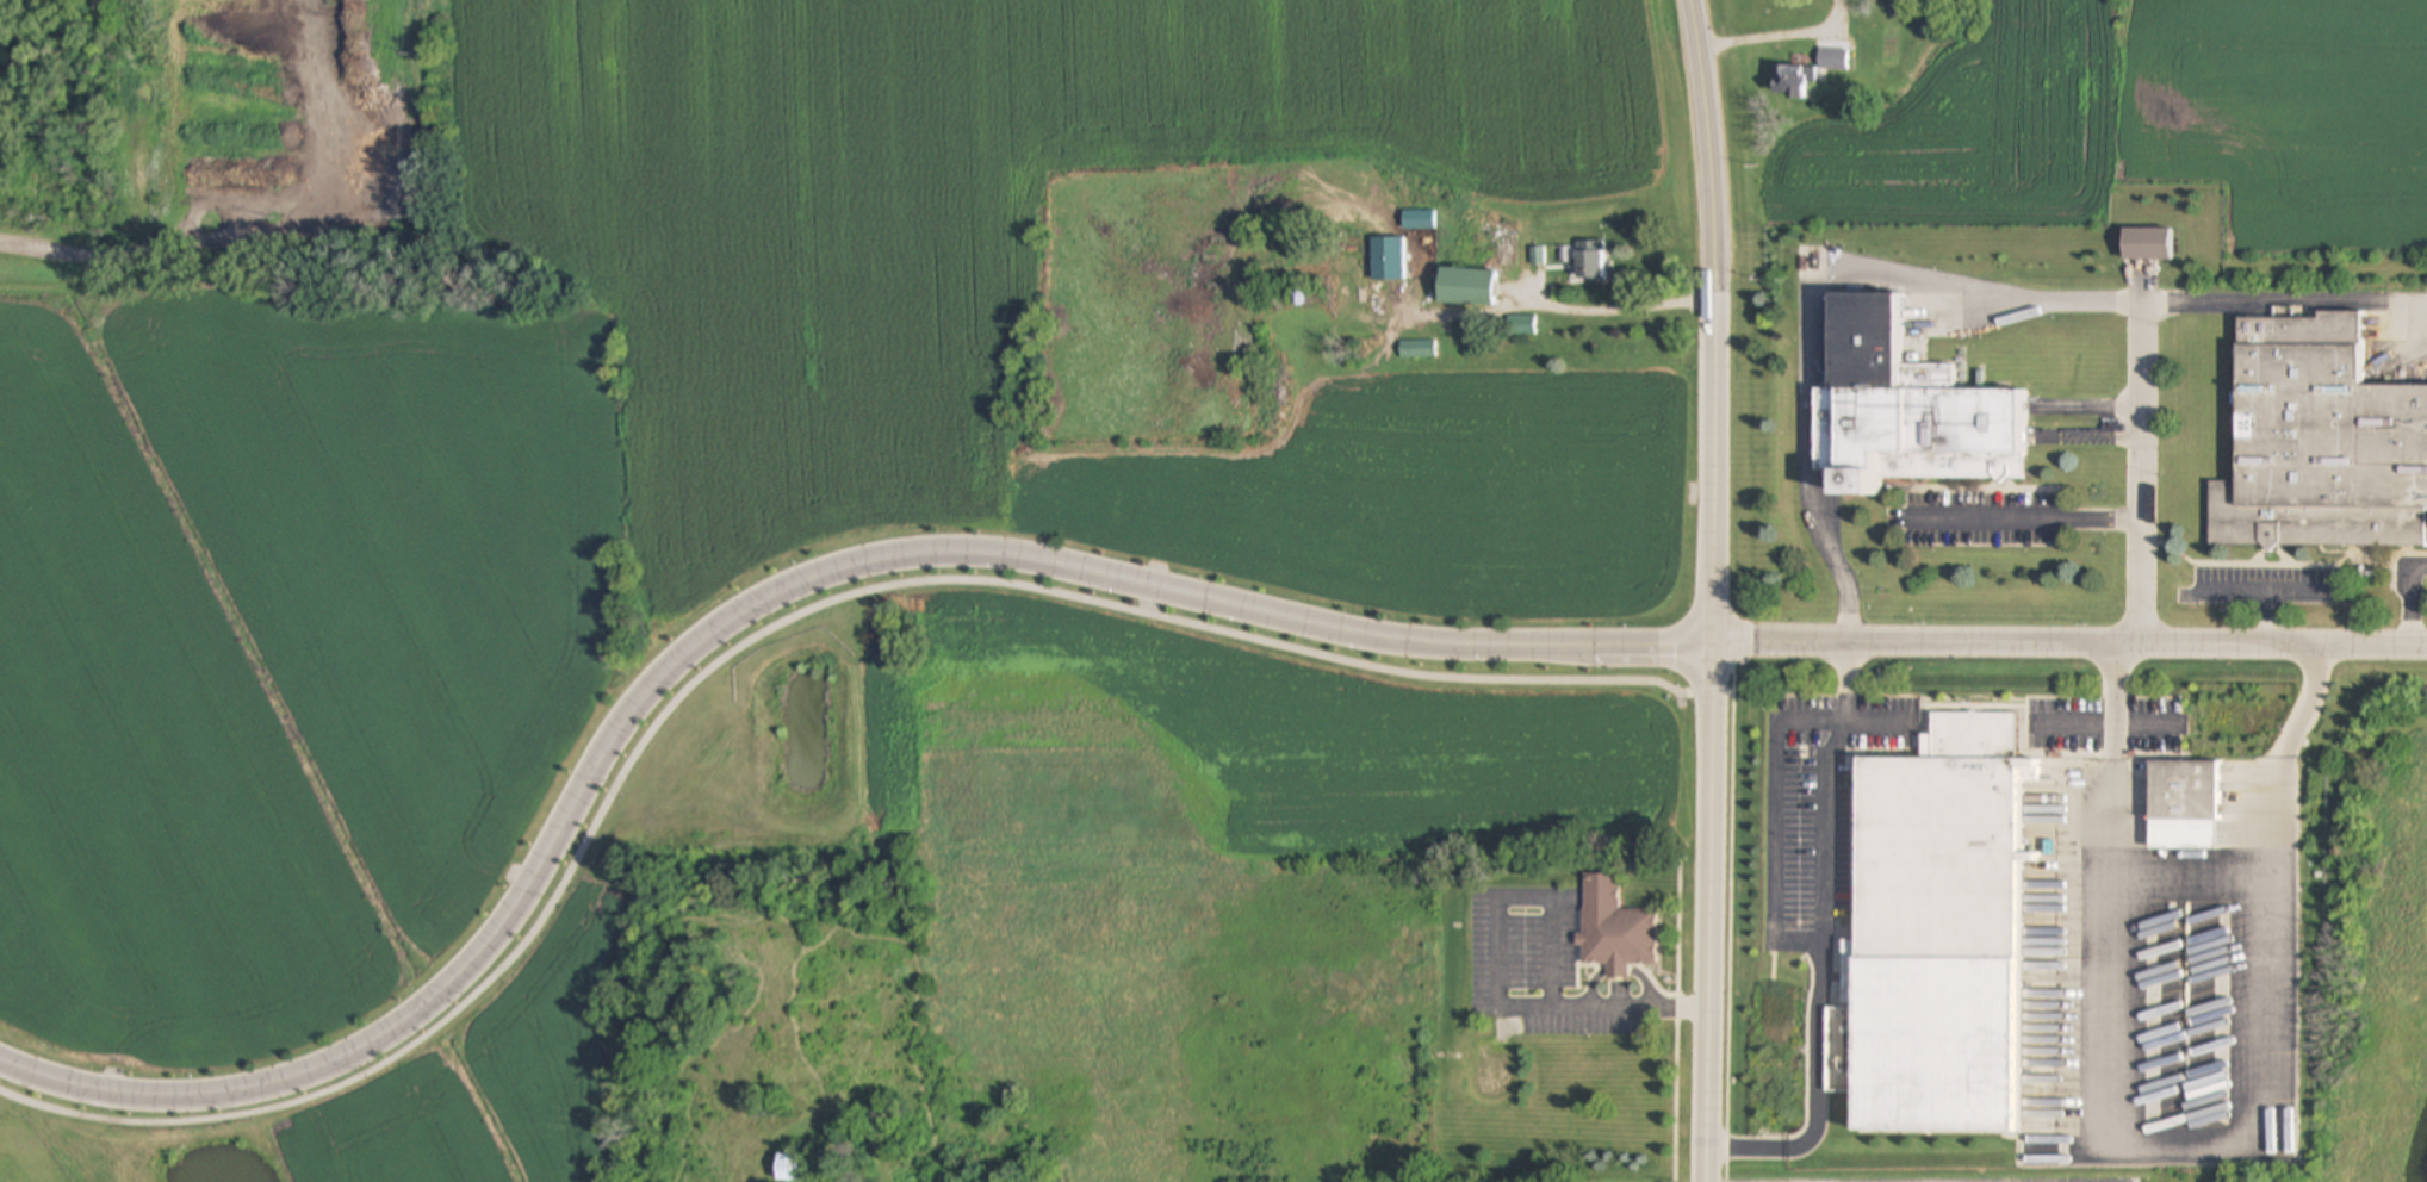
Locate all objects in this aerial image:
road: (1780, 35)
building: (1832, 62)
building: (1788, 81)
road: (1715, 147)
crop: (1966, 168)
road: (197, 243)
building: (1506, 245)
building: (1391, 250)
building: (1590, 267)
road: (2158, 294)
road: (1566, 309)
building: (1416, 350)
building: (1919, 434)
building: (2320, 443)
road: (1810, 454)
road: (2142, 469)
road: (2026, 522)
road: (2233, 587)
road: (2273, 587)
road: (2409, 598)
road: (756, 603)
road: (737, 637)
road: (2073, 646)
road: (1708, 673)
road: (2113, 702)
road: (2308, 704)
road: (1848, 711)
road: (1718, 739)
crop: (1252, 749)
building: (2183, 792)
building: (1614, 928)
road: (1740, 928)
road: (1773, 931)
building: (1937, 933)
park: (552, 941)
road: (1491, 981)
road: (1814, 1089)
road: (2186, 1144)
building: (787, 1167)

